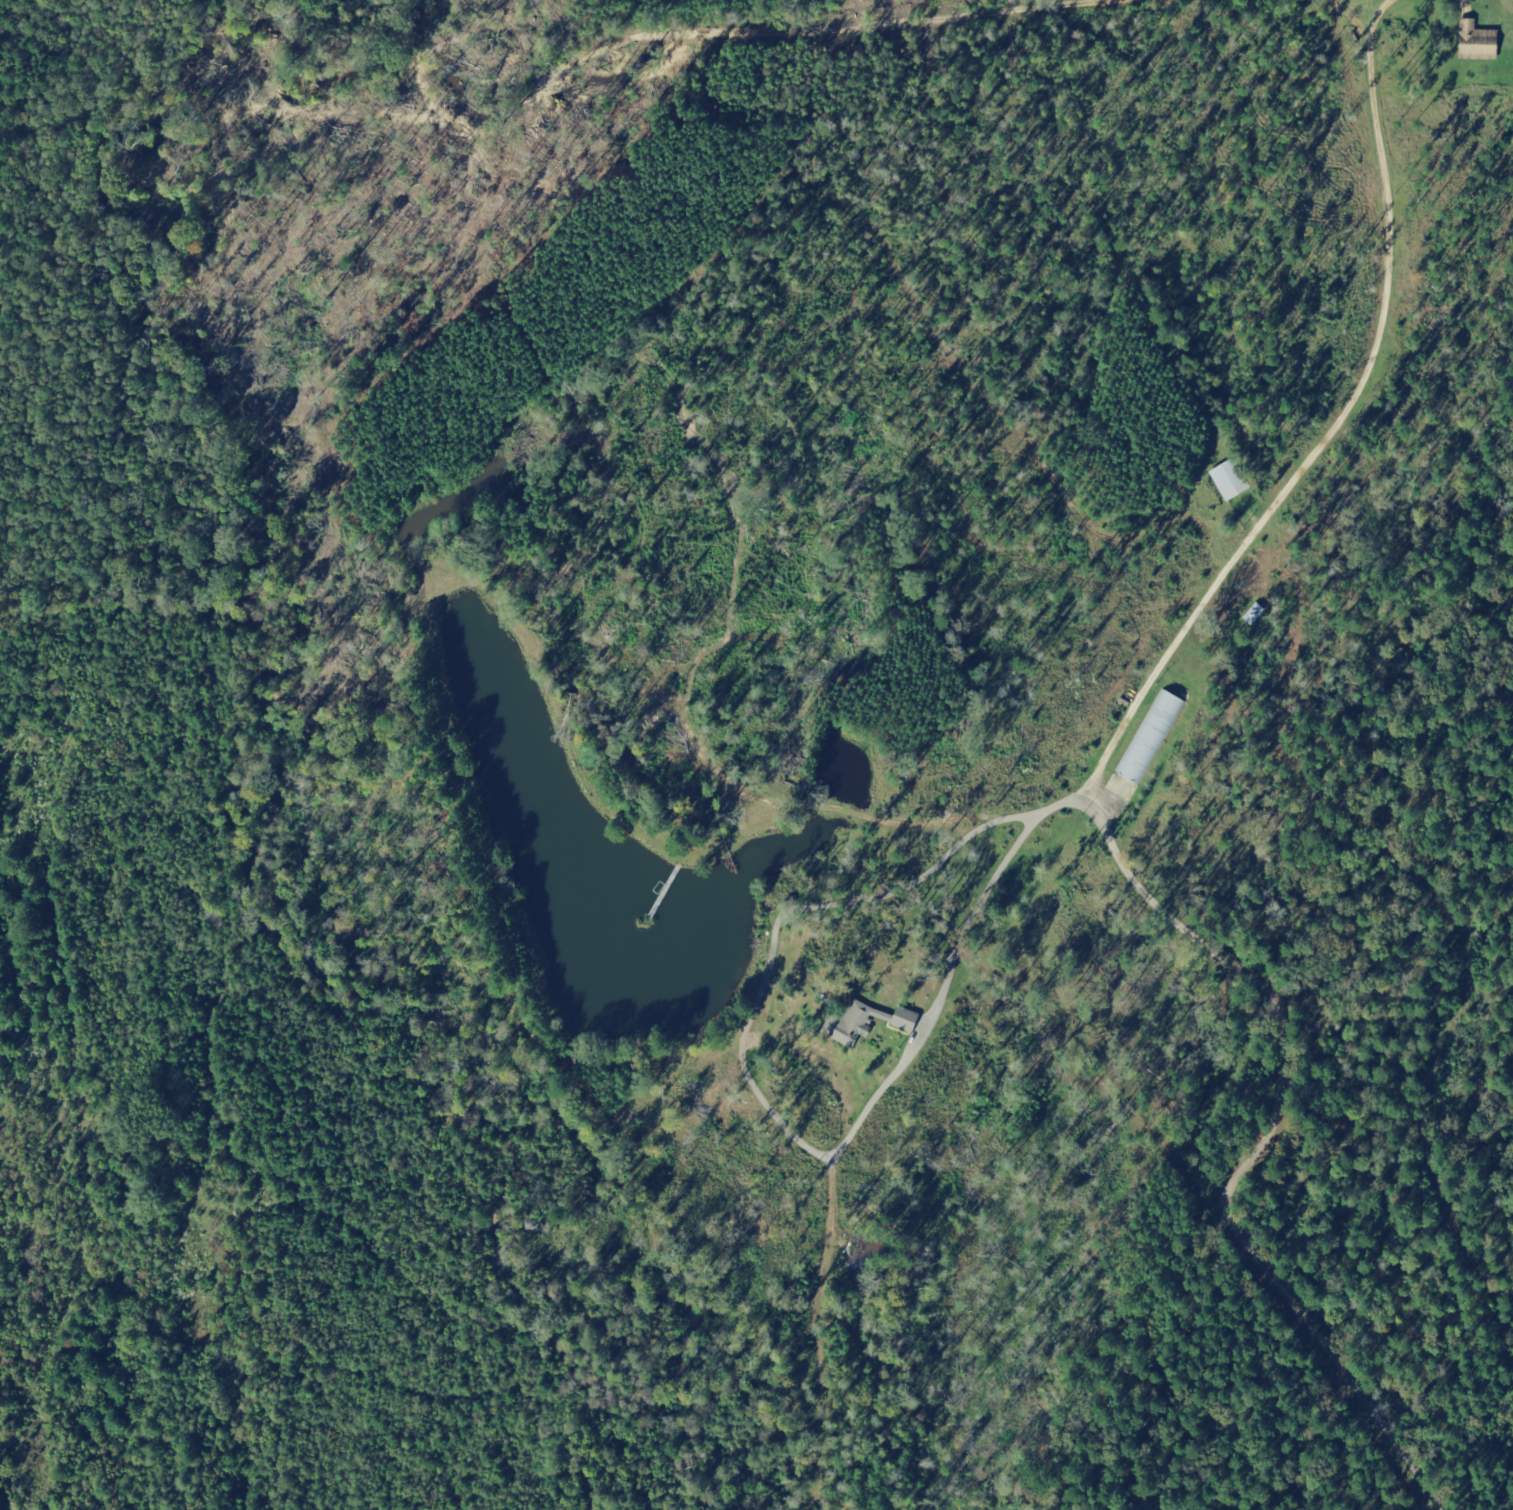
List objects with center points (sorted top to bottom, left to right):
building: (1482, 43)
building: (1234, 480)
building: (1154, 736)
building: (868, 1023)
road: (1286, 1464)
road: (1190, 1505)

